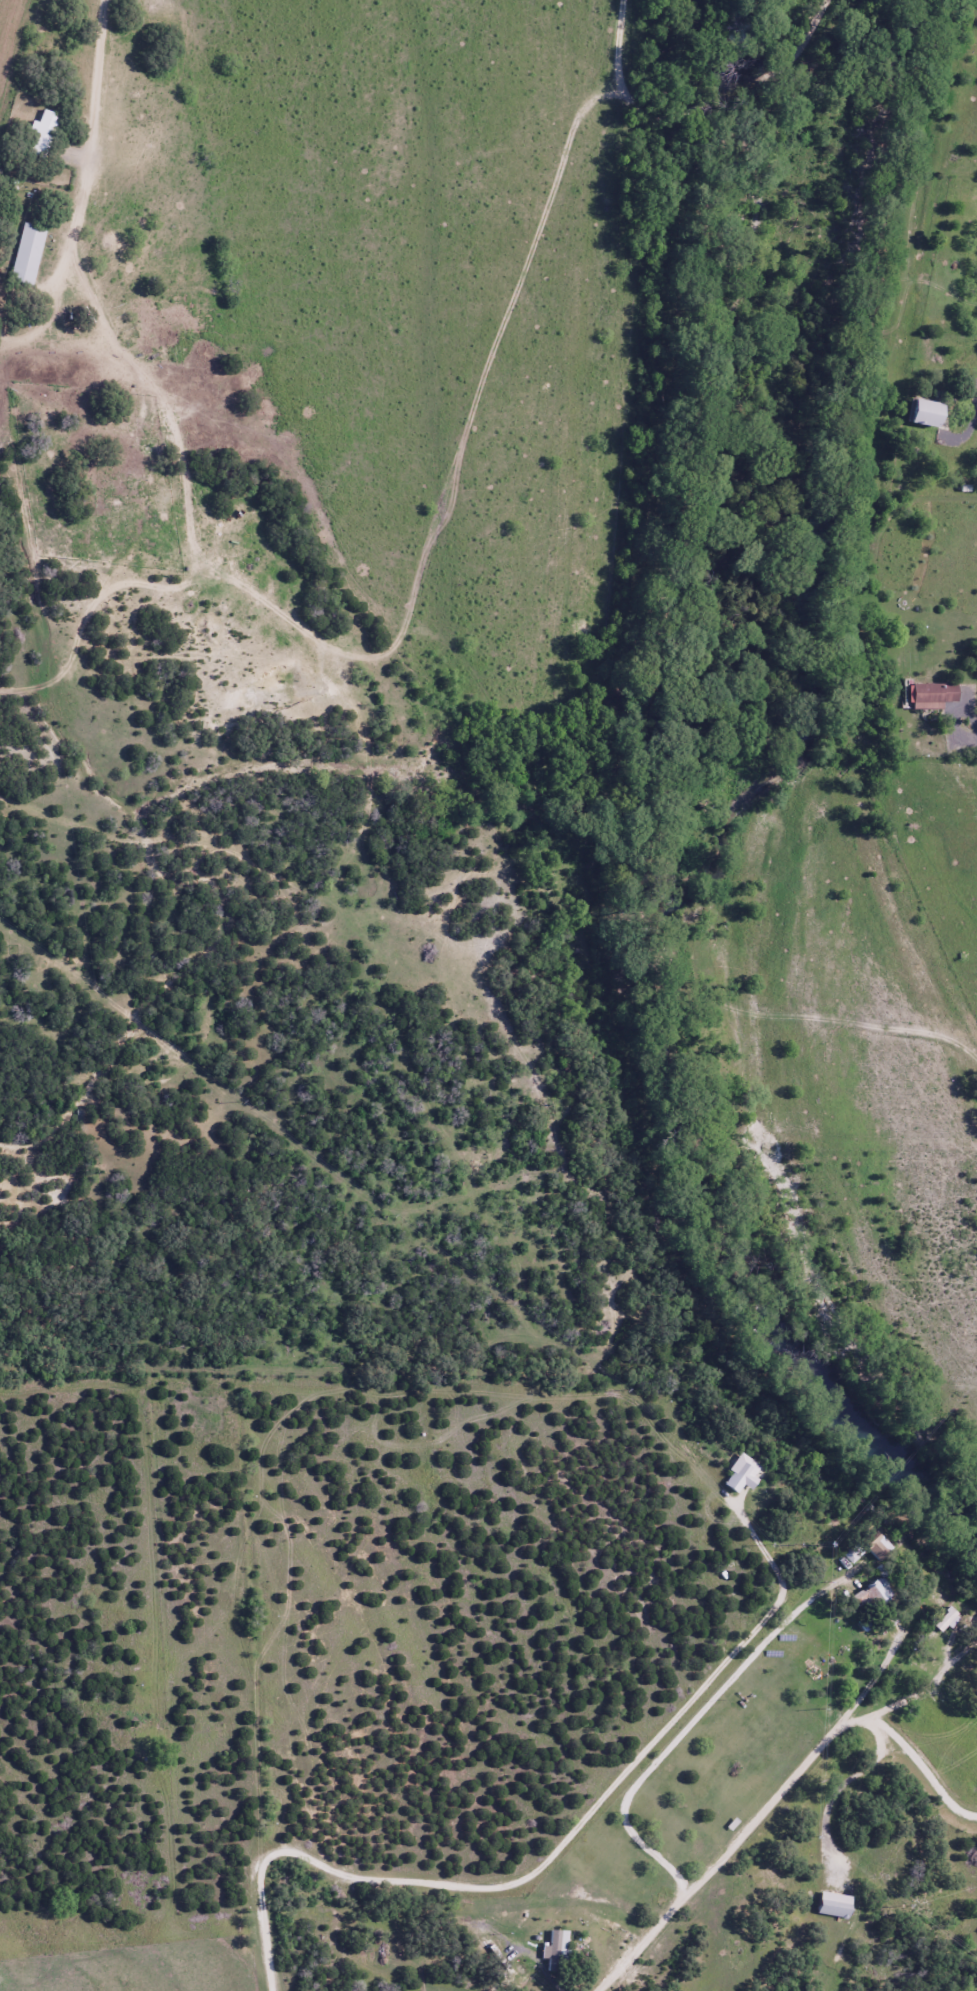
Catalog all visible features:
river: (789, 92)
building: (41, 134)
building: (27, 254)
building: (927, 415)
river: (767, 441)
building: (932, 692)
road: (874, 1029)
river: (727, 1242)
building: (740, 1474)
building: (876, 1592)
building: (945, 1621)
road: (953, 1635)
road: (962, 1654)
road: (895, 1704)
road: (842, 1783)
road: (758, 1814)
road: (510, 1879)
building: (832, 1905)
building: (557, 1950)

